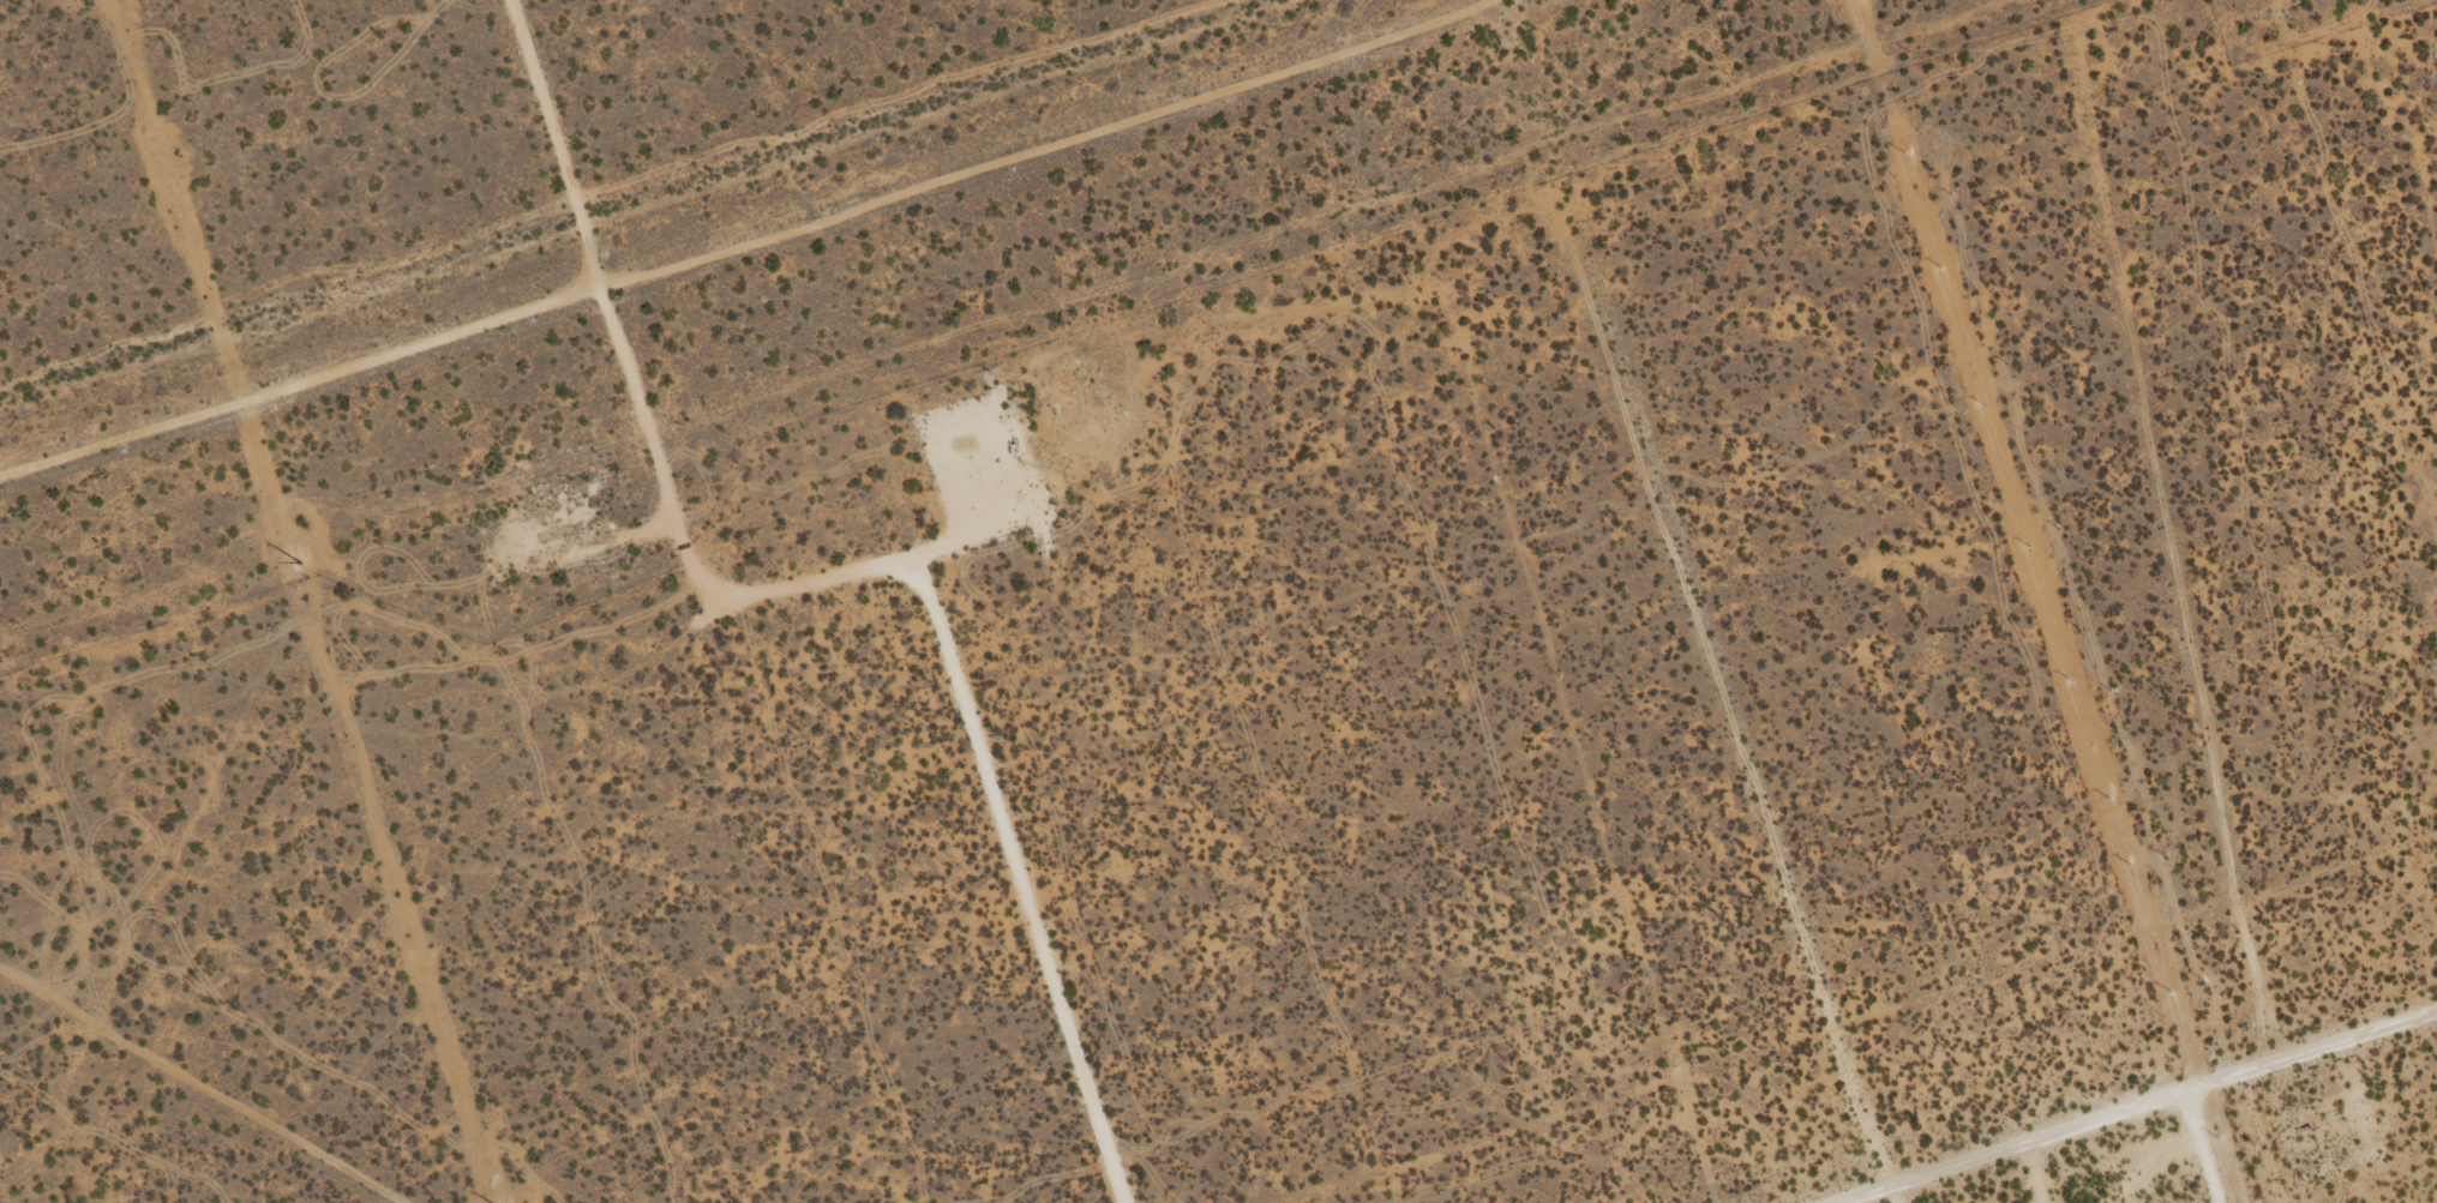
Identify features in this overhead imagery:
road: (566, 139)
road: (772, 236)
road: (1644, 627)
road: (2129, 1119)
road: (2015, 1181)

